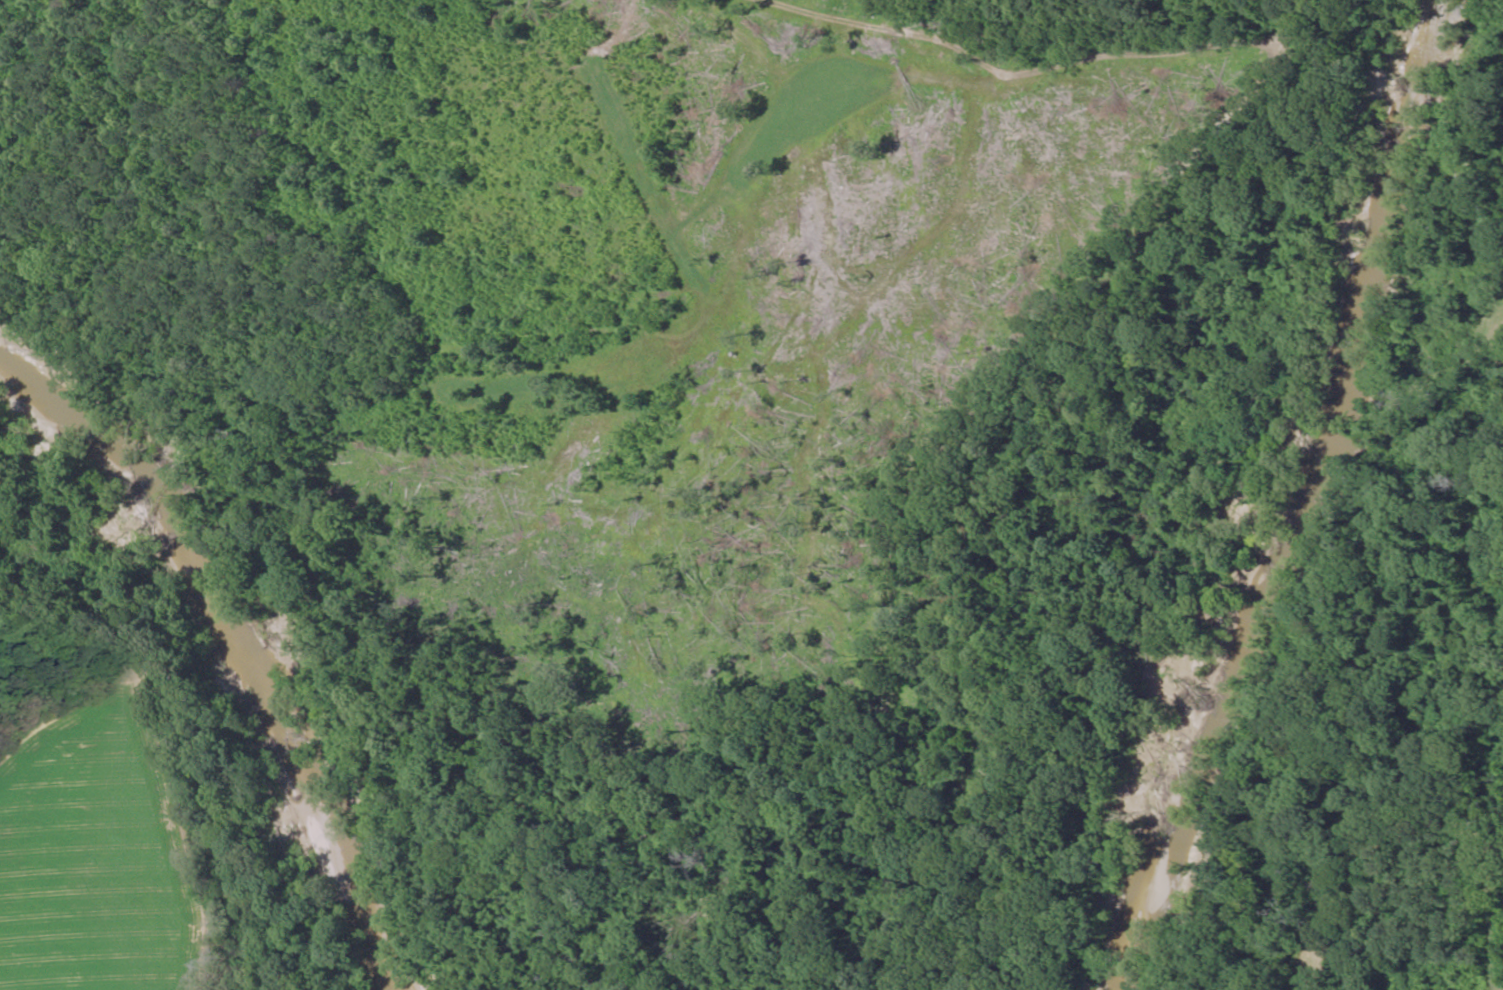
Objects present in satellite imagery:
road: (822, 16)

